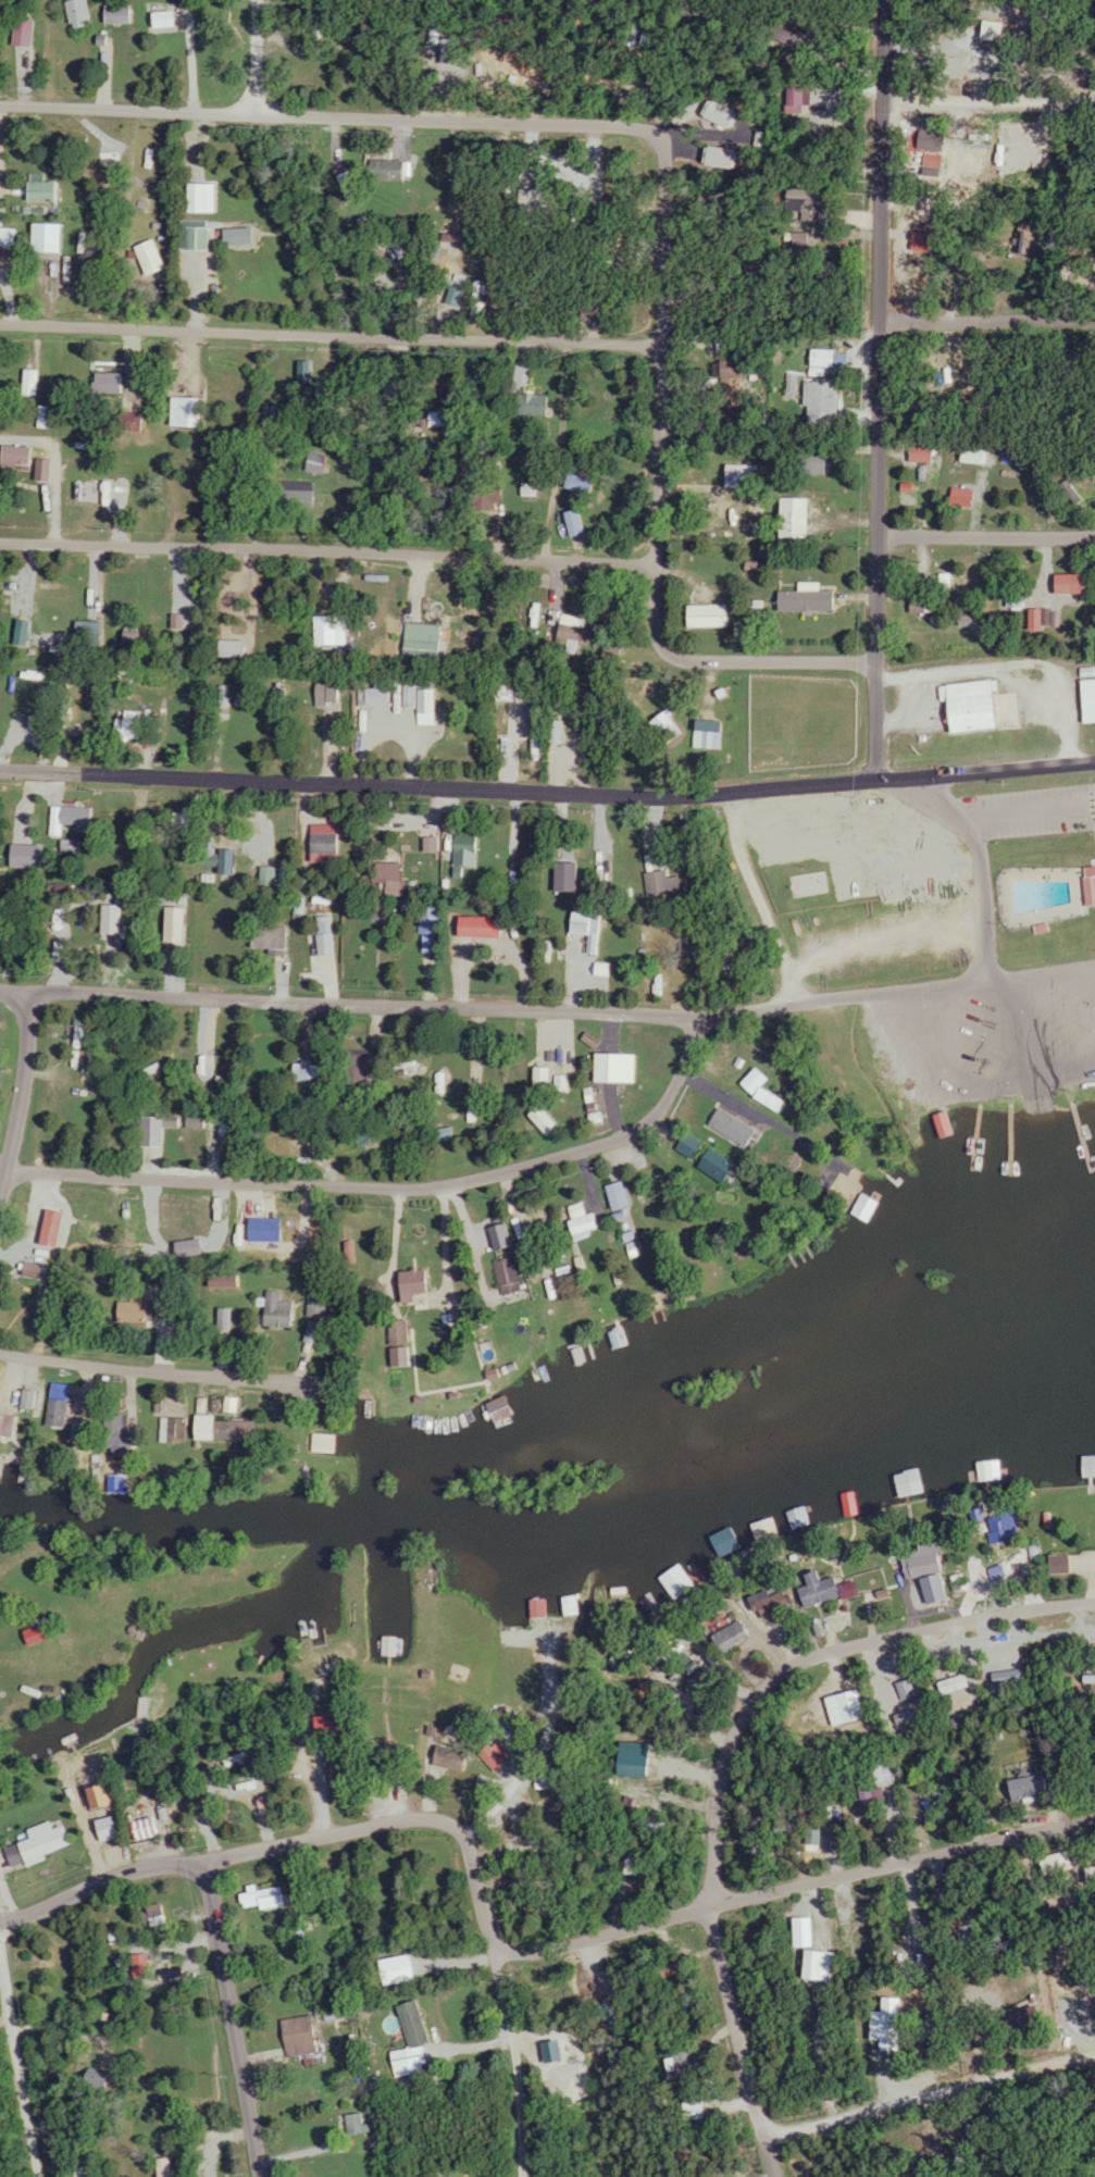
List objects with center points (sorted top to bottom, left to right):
building: (79, 13)
building: (121, 14)
road: (254, 54)
building: (786, 100)
road: (986, 101)
road: (351, 113)
building: (387, 169)
building: (351, 186)
building: (46, 191)
building: (204, 198)
building: (456, 202)
building: (796, 204)
building: (195, 236)
building: (242, 237)
building: (7, 238)
building: (49, 238)
building: (1020, 244)
building: (151, 258)
road: (352, 315)
road: (987, 323)
building: (721, 370)
building: (30, 383)
building: (108, 384)
road: (879, 388)
building: (812, 400)
building: (533, 405)
building: (189, 412)
building: (444, 419)
building: (968, 452)
building: (913, 453)
building: (17, 458)
road: (706, 459)
building: (805, 462)
building: (319, 464)
building: (736, 476)
building: (297, 494)
building: (88, 497)
building: (495, 498)
building: (788, 519)
road: (986, 536)
road: (347, 563)
building: (1061, 583)
building: (804, 601)
building: (711, 615)
building: (577, 630)
building: (337, 631)
building: (427, 643)
building: (329, 693)
building: (1084, 700)
building: (432, 701)
building: (967, 707)
building: (36, 721)
building: (135, 726)
building: (671, 729)
building: (709, 739)
building: (577, 741)
road: (547, 780)
building: (71, 818)
building: (328, 844)
building: (469, 850)
road: (982, 867)
building: (272, 876)
building: (572, 878)
building: (658, 884)
building: (1086, 885)
road: (754, 895)
building: (592, 929)
building: (271, 938)
road: (886, 946)
road: (22, 997)
road: (469, 1011)
building: (361, 1063)
road: (936, 1065)
building: (619, 1068)
building: (307, 1072)
building: (747, 1080)
road: (1031, 1082)
road: (22, 1091)
building: (174, 1120)
building: (936, 1123)
building: (723, 1124)
building: (682, 1144)
building: (706, 1164)
road: (0, 1177)
road: (389, 1184)
building: (610, 1194)
building: (857, 1207)
building: (575, 1220)
building: (266, 1228)
building: (507, 1271)
building: (405, 1285)
building: (316, 1304)
building: (162, 1305)
building: (133, 1310)
building: (277, 1310)
building: (391, 1331)
road: (159, 1374)
building: (60, 1413)
building: (231, 1428)
building: (183, 1429)
building: (127, 1436)
building: (329, 1443)
building: (1082, 1466)
building: (901, 1482)
building: (997, 1526)
building: (916, 1562)
building: (1053, 1564)
building: (810, 1589)
building: (763, 1601)
building: (530, 1608)
building: (41, 1634)
building: (722, 1634)
building: (395, 1645)
building: (836, 1706)
building: (337, 1726)
building: (490, 1754)
road: (731, 1767)
building: (1015, 1787)
building: (860, 1794)
road: (394, 1825)
building: (35, 1844)
building: (1049, 1863)
road: (899, 1871)
building: (269, 1899)
building: (804, 1931)
building: (812, 1965)
road: (228, 2017)
building: (876, 2026)
building: (302, 2036)
building: (415, 2037)
road: (509, 2063)
road: (20, 2076)
road: (929, 2091)
building: (685, 2111)
building: (361, 2123)

